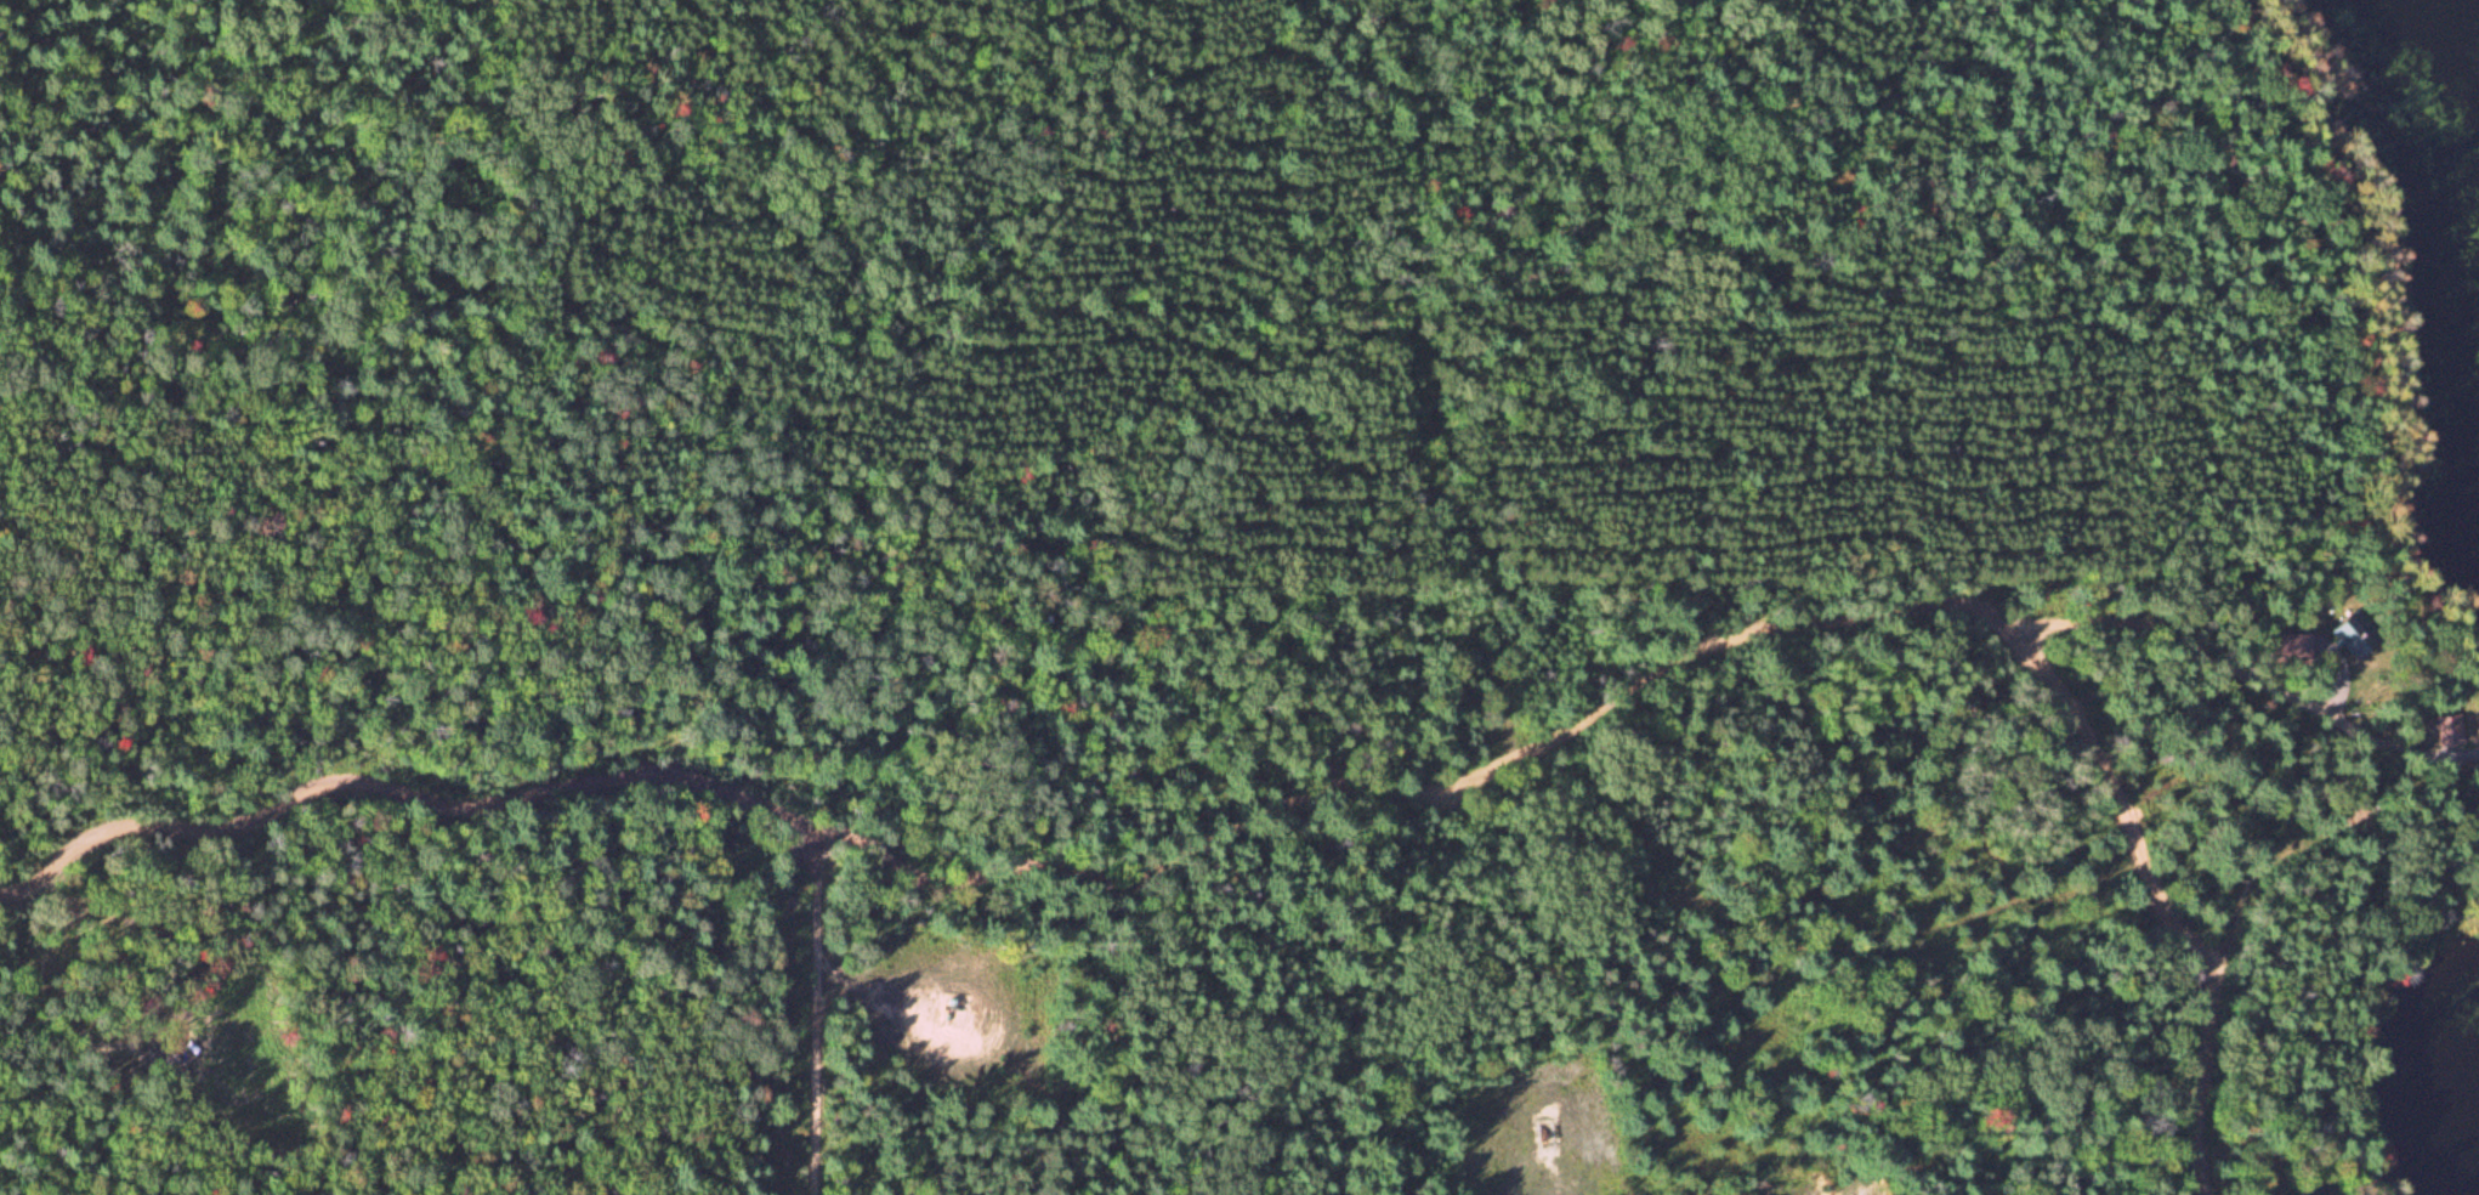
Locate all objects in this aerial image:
road: (1430, 386)
building: (2352, 635)
building: (2286, 647)
road: (2032, 661)
road: (2331, 713)
building: (2449, 730)
road: (750, 806)
road: (788, 1009)
building: (2311, 1185)

